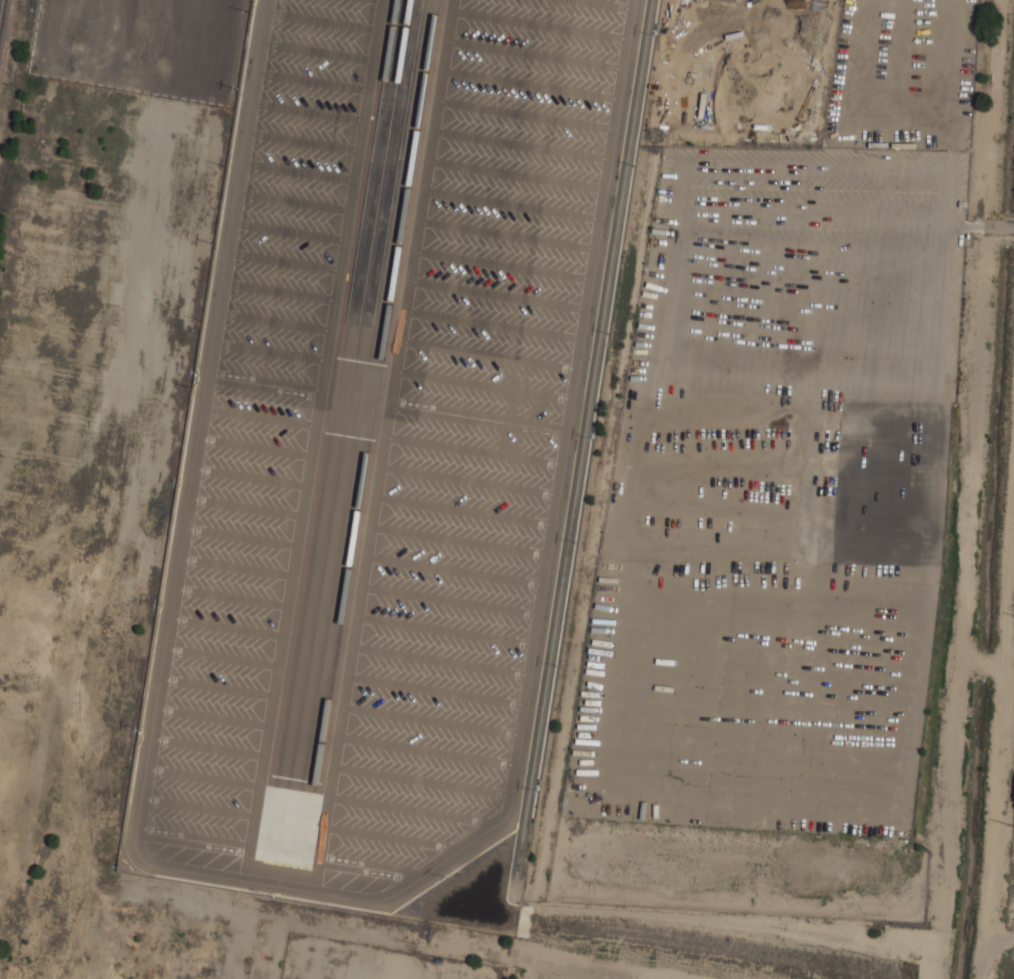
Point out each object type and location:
road: (604, 4)
railway: (1, 11)
road: (321, 22)
road: (539, 25)
road: (317, 51)
road: (535, 55)
road: (312, 81)
road: (530, 85)
road: (307, 112)
road: (525, 115)
road: (303, 141)
road: (520, 144)
road: (299, 171)
road: (516, 175)
road: (294, 201)
road: (511, 204)
road: (290, 232)
road: (507, 234)
road: (285, 261)
road: (502, 264)
road: (280, 291)
road: (497, 294)
road: (276, 321)
road: (492, 325)
road: (271, 352)
road: (487, 354)
road: (266, 384)
road: (482, 385)
railway: (336, 393)
railway: (349, 394)
railway: (362, 394)
railway: (375, 395)
road: (261, 417)
road: (477, 417)
parking lot: (259, 426)
parking lot: (475, 428)
road: (385, 429)
road: (313, 438)
railway: (587, 439)
road: (256, 447)
road: (472, 450)
road: (560, 460)
road: (251, 477)
road: (468, 481)
road: (246, 508)
road: (463, 510)
road: (242, 537)
road: (459, 540)
road: (181, 566)
road: (237, 567)
road: (454, 570)
road: (233, 597)
road: (449, 600)
road: (228, 627)
road: (444, 630)
road: (223, 657)
road: (439, 660)
road: (218, 688)
road: (435, 690)
road: (214, 716)
road: (430, 720)
road: (209, 748)
road: (425, 751)
road: (204, 777)
road: (420, 780)
road: (200, 807)
road: (409, 809)
road: (389, 836)
road: (195, 840)
road: (366, 867)
road: (317, 874)

